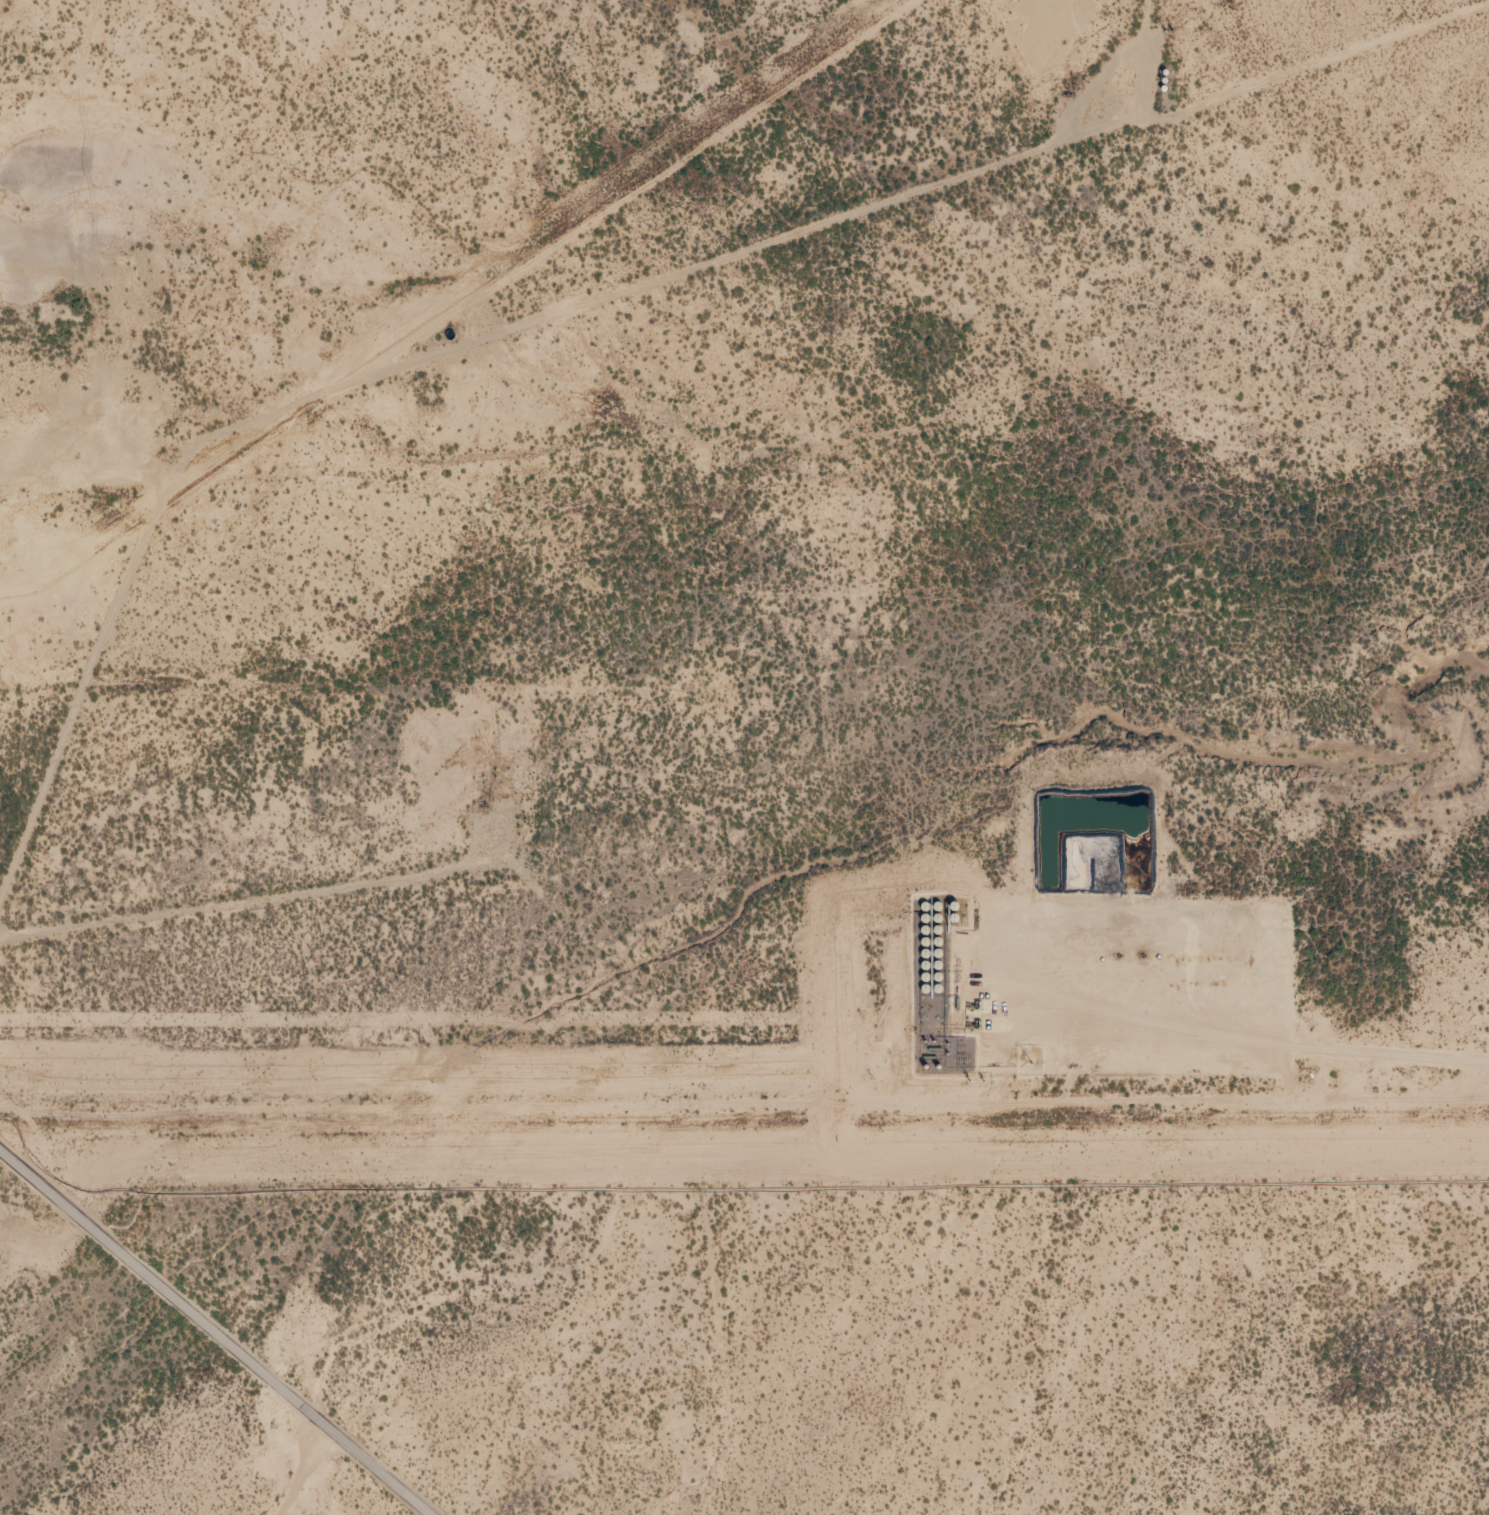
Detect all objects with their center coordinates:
road: (182, 1336)
road: (351, 1494)

